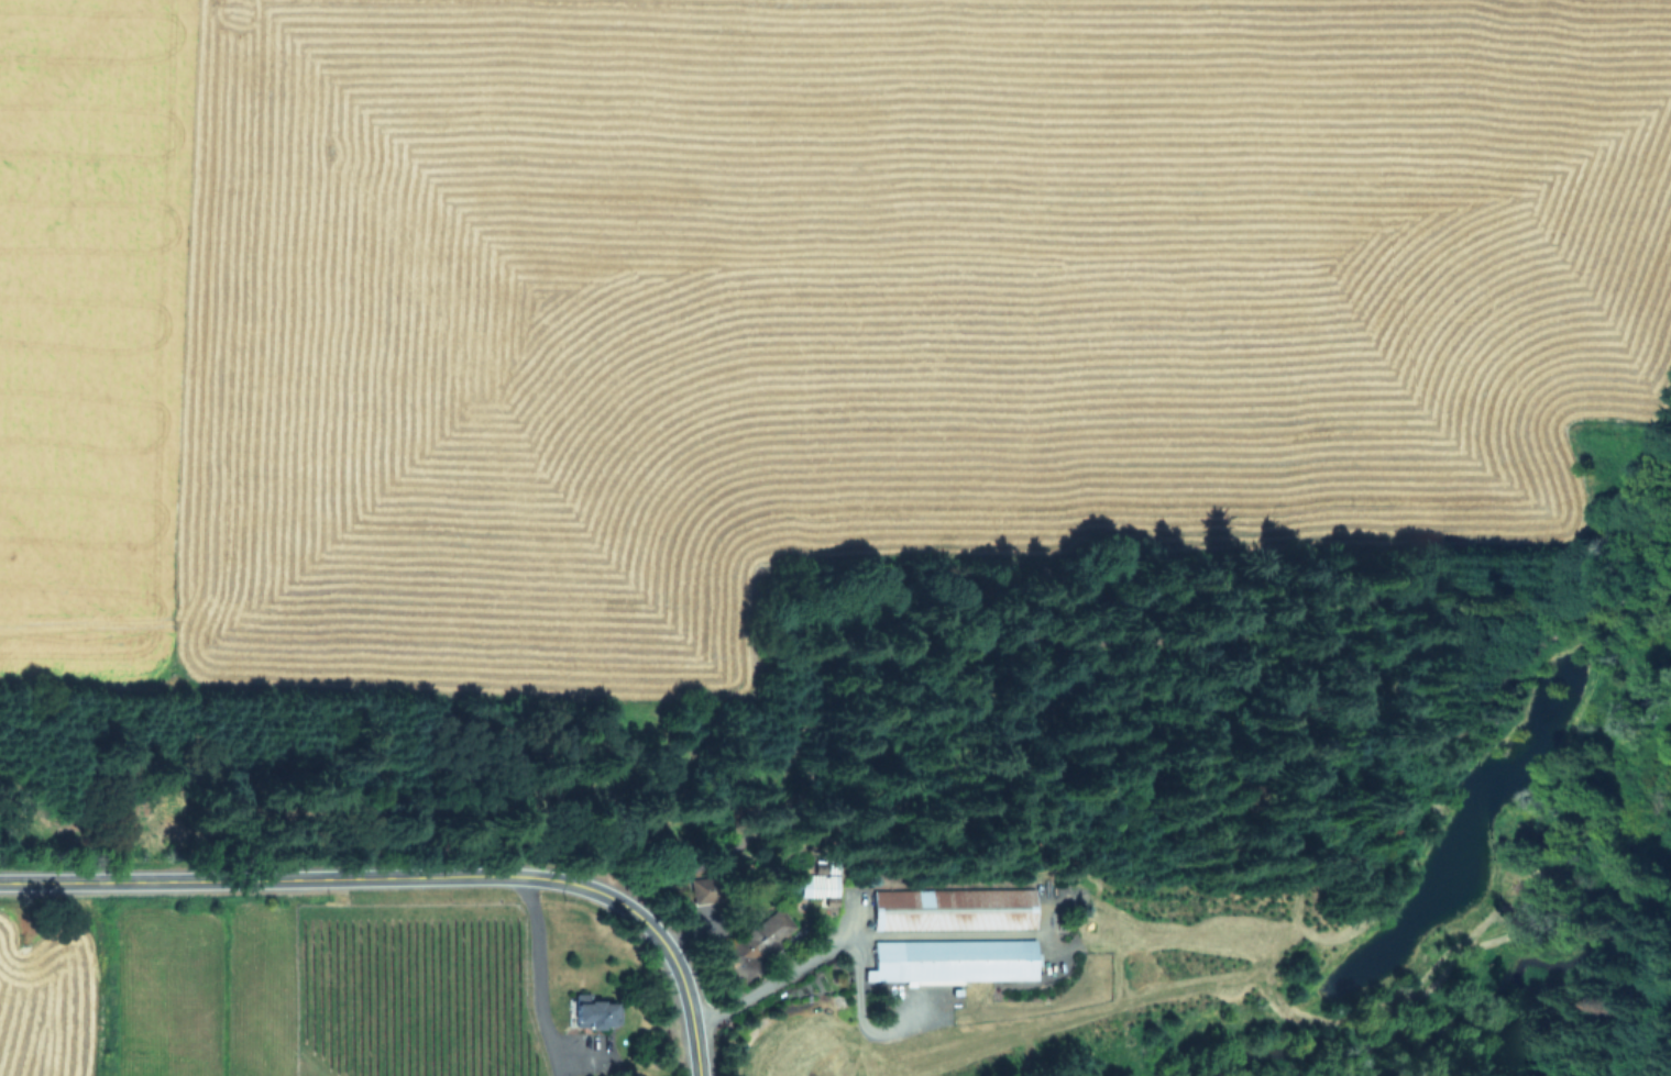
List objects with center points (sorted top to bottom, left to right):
crop: (770, 304)
road: (367, 877)
building: (818, 881)
road: (62, 883)
building: (697, 888)
building: (760, 934)
road: (855, 935)
building: (952, 958)
road: (678, 973)
river: (1525, 976)
road: (532, 977)
building: (592, 1012)
road: (860, 1014)
crop: (1, 1075)

